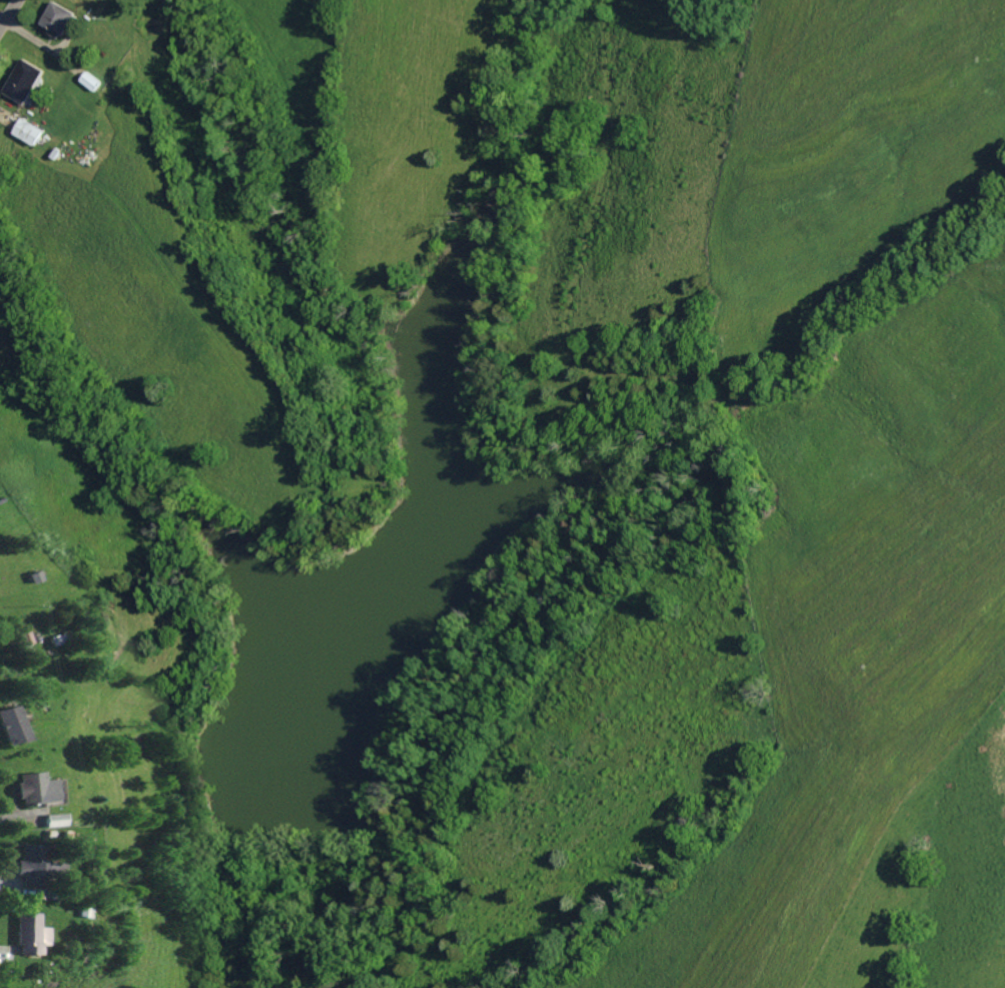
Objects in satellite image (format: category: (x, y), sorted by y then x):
road: (2, 3)
building: (63, 19)
building: (26, 80)
building: (30, 131)
building: (12, 724)
building: (32, 788)
building: (50, 819)
building: (35, 866)
road: (149, 900)
building: (30, 934)

